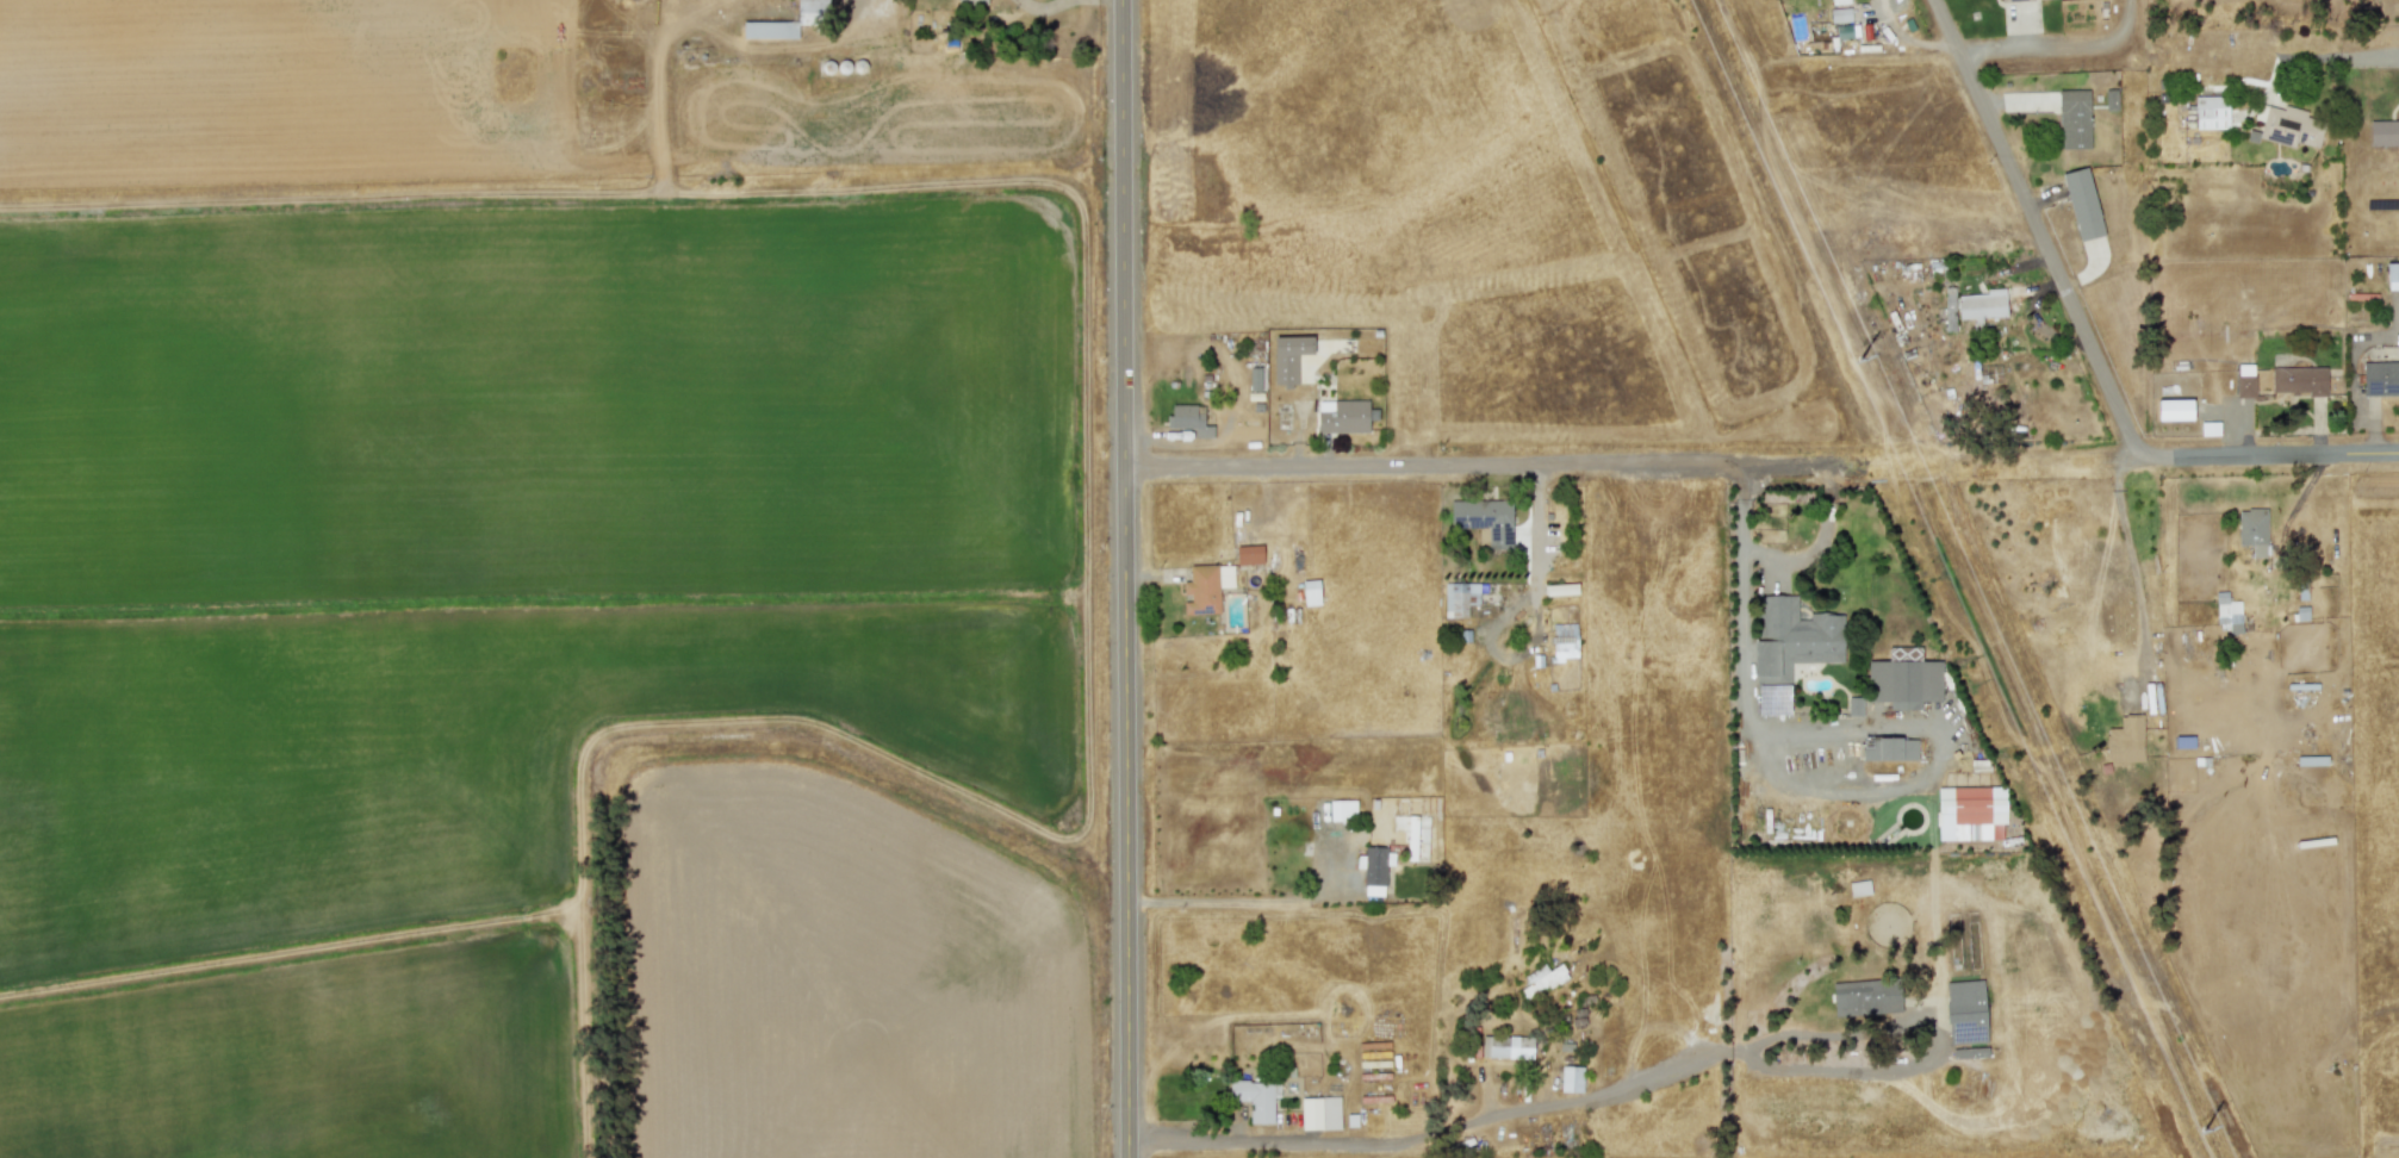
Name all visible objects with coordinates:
building: (2015, 0)
building: (970, 1)
building: (1838, 1)
building: (812, 10)
road: (1045, 11)
building: (1840, 14)
road: (2358, 29)
building: (770, 30)
road: (2062, 48)
road: (2349, 57)
building: (2074, 119)
building: (2286, 126)
building: (2385, 132)
building: (2082, 204)
road: (2038, 231)
building: (2392, 276)
building: (1982, 305)
building: (1950, 309)
building: (1288, 357)
road: (1609, 375)
building: (2379, 379)
building: (2244, 380)
building: (2298, 380)
building: (1343, 416)
building: (1188, 419)
building: (2208, 429)
road: (2275, 456)
road: (1431, 462)
road: (1786, 465)
building: (1484, 521)
building: (2252, 530)
building: (1248, 555)
road: (2130, 555)
building: (1225, 577)
road: (1124, 578)
building: (1200, 590)
building: (1561, 590)
road: (1744, 590)
building: (1310, 592)
building: (1458, 598)
building: (2229, 614)
building: (1790, 637)
building: (1564, 641)
crop: (557, 672)
building: (1903, 679)
building: (1773, 699)
building: (1854, 706)
building: (2125, 740)
building: (1888, 748)
building: (2298, 760)
building: (1342, 810)
building: (1970, 814)
building: (1411, 838)
building: (1372, 870)
building: (1858, 888)
road: (1223, 902)
building: (1541, 979)
building: (1865, 998)
building: (1965, 1011)
building: (1506, 1047)
building: (1571, 1079)
building: (1255, 1100)
building: (1319, 1113)
road: (1417, 1140)

